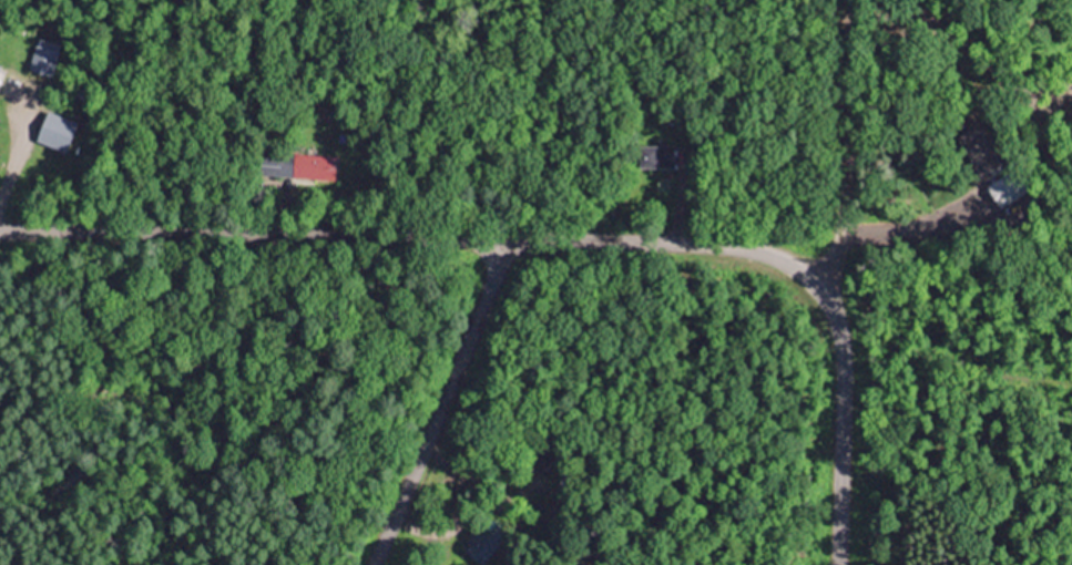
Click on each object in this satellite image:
building: (42, 59)
building: (54, 130)
road: (10, 135)
road: (839, 140)
building: (650, 155)
building: (295, 164)
road: (558, 239)
road: (440, 402)
building: (482, 542)

